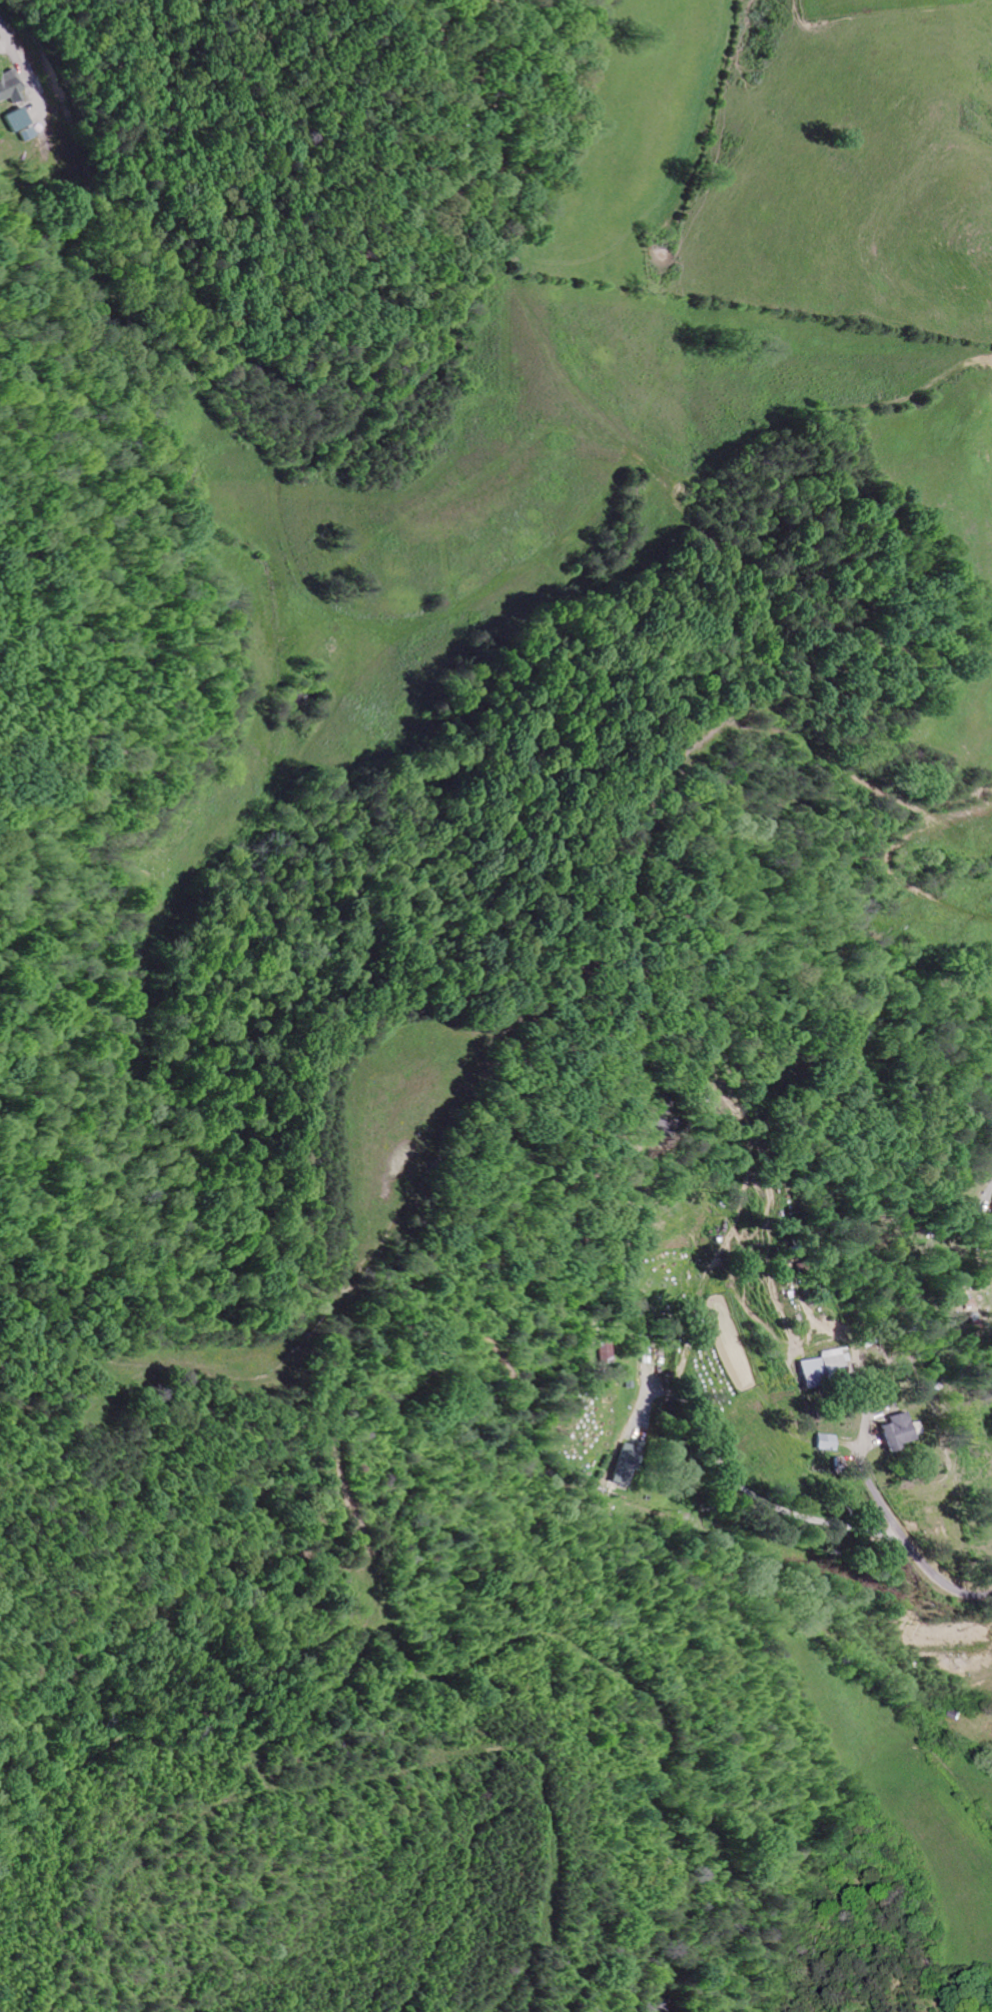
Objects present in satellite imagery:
road: (8, 42)
building: (7, 86)
building: (14, 123)
building: (600, 1351)
building: (814, 1367)
building: (894, 1432)
building: (819, 1442)
building: (620, 1465)
road: (881, 1521)

